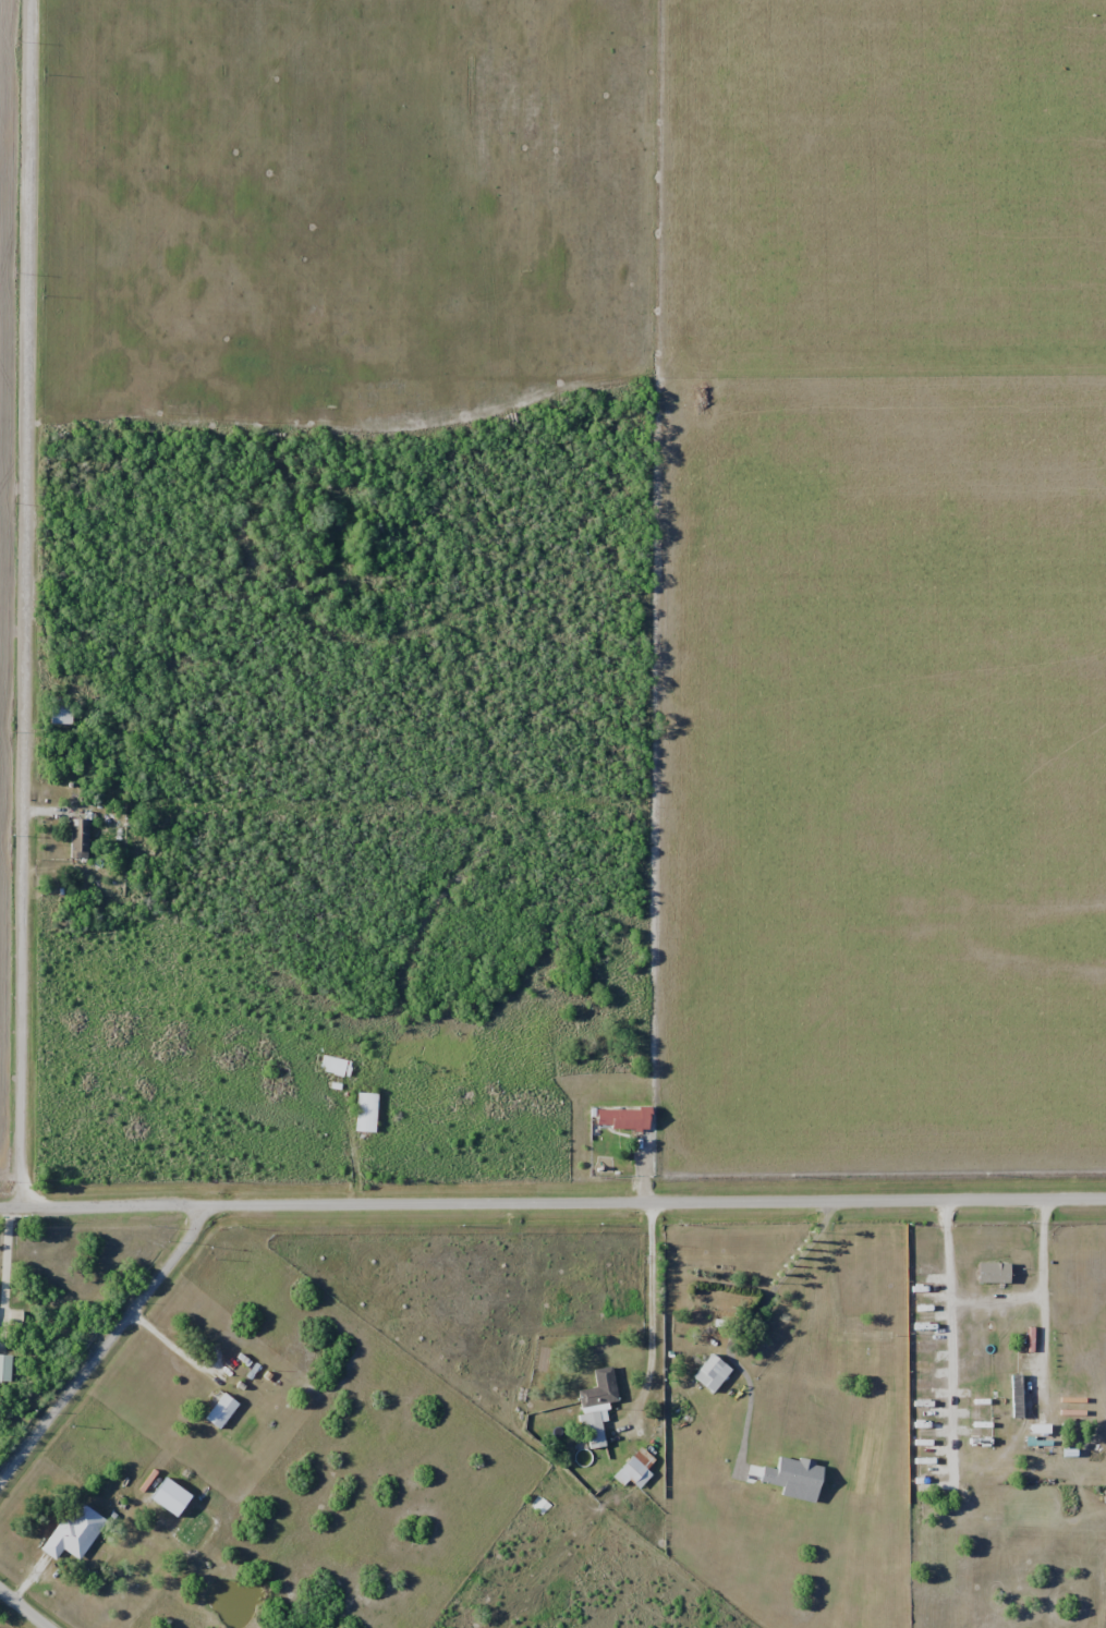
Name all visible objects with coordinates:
road: (31, 603)
building: (60, 714)
building: (80, 837)
building: (336, 1066)
building: (367, 1111)
building: (620, 1117)
road: (552, 1202)
road: (5, 1256)
road: (986, 1291)
road: (646, 1313)
building: (864, 1336)
road: (168, 1343)
road: (105, 1348)
building: (7, 1368)
building: (709, 1373)
building: (1014, 1396)
building: (594, 1409)
building: (222, 1410)
building: (633, 1469)
building: (75, 1531)
road: (25, 1608)

